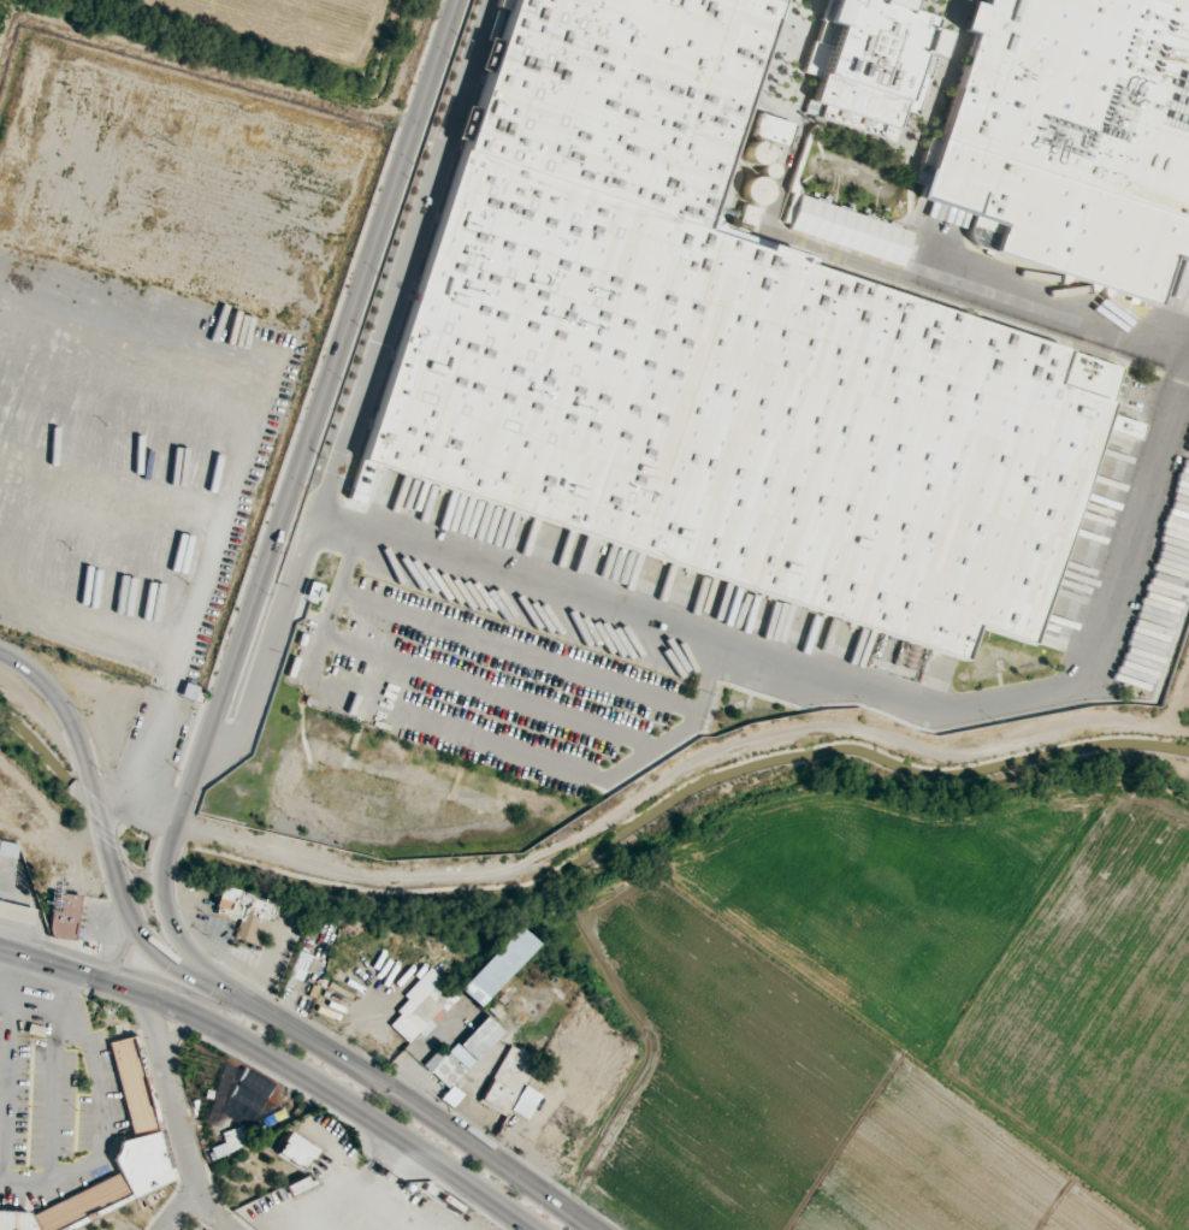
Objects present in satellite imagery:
parking lot: (58, 1119)
park: (248, 1175)
park: (147, 1219)

